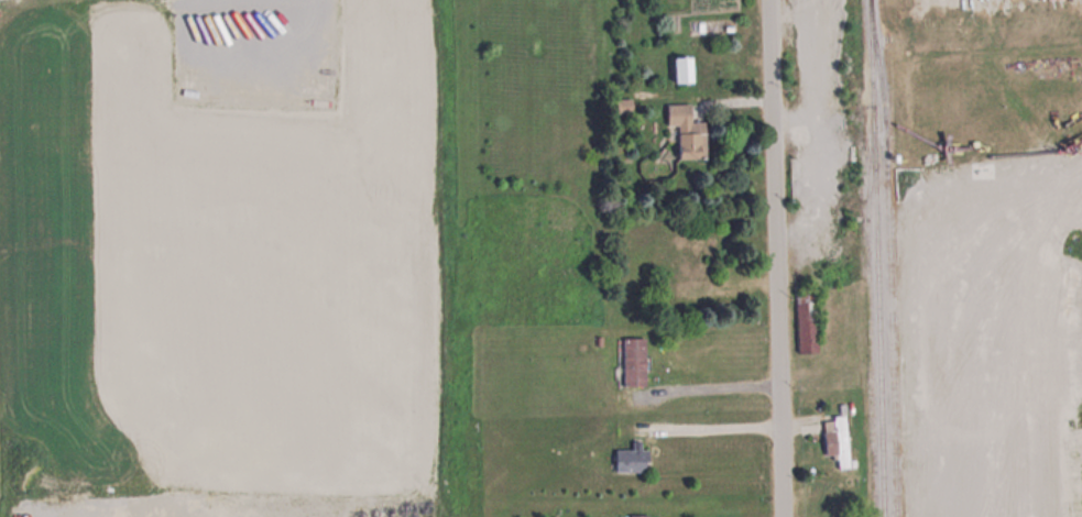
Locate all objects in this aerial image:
building: (682, 68)
building: (687, 130)
railway: (877, 257)
railway: (889, 257)
road: (776, 258)
railway: (872, 330)
building: (634, 361)
building: (837, 438)
building: (632, 458)
building: (640, 515)

